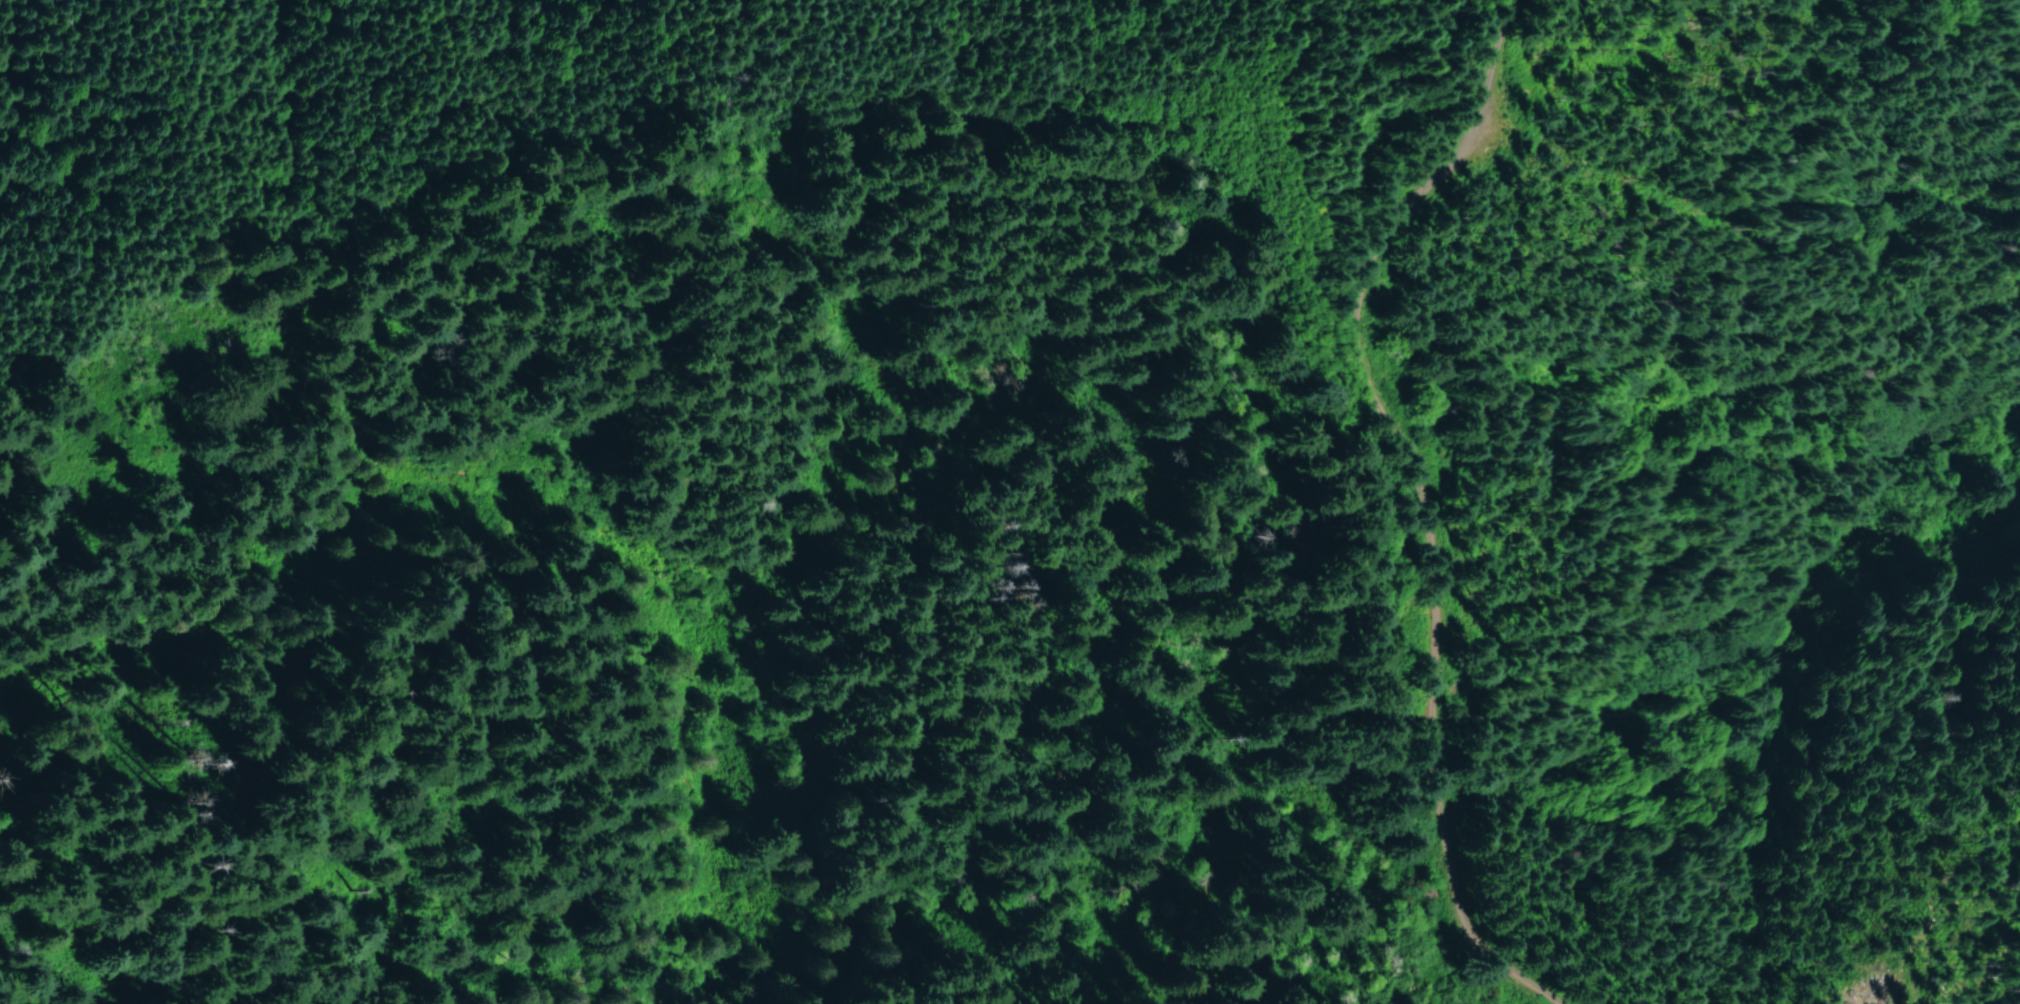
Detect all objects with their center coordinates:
road: (1507, 536)

